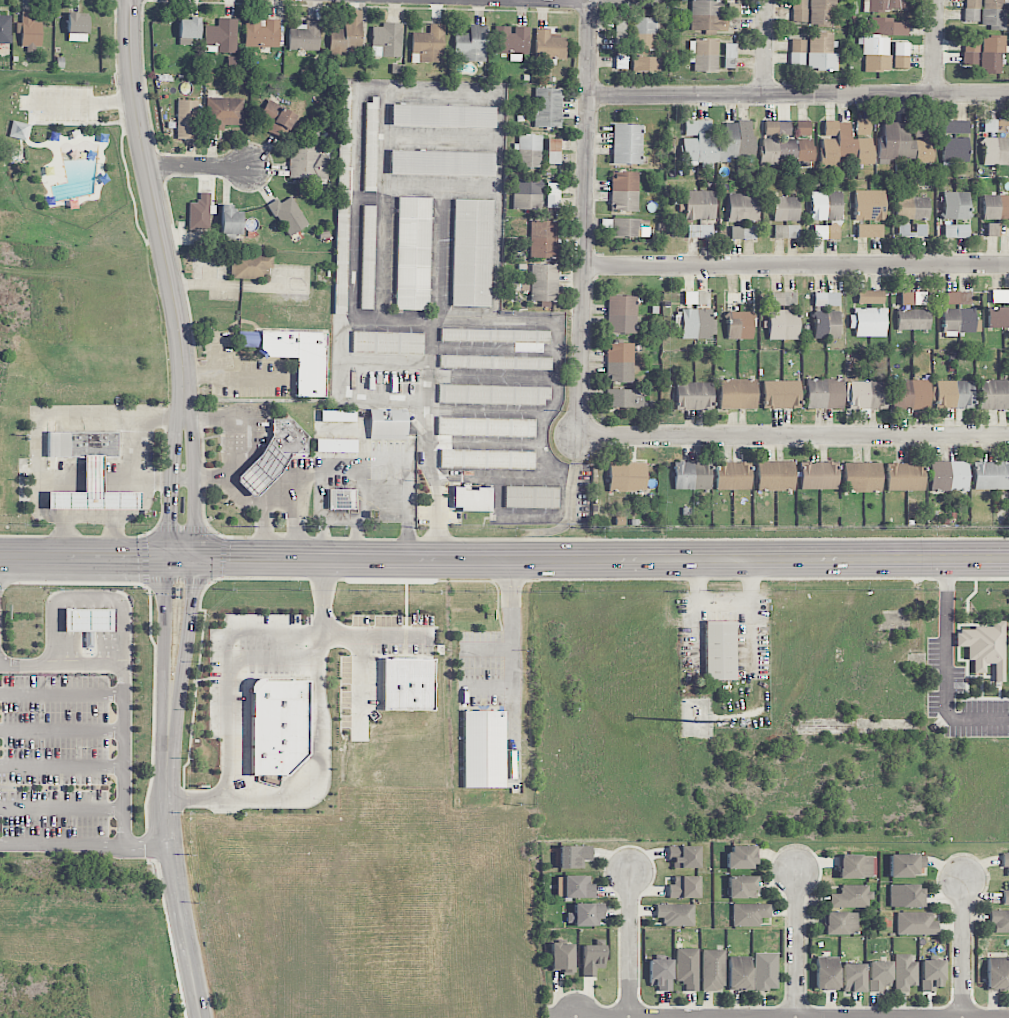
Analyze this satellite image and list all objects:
road: (574, 0)
road: (623, 0)
building: (883, 5)
building: (799, 10)
building: (971, 11)
building: (822, 13)
building: (993, 14)
building: (733, 15)
building: (707, 16)
building: (77, 27)
building: (188, 28)
building: (620, 29)
building: (30, 31)
building: (5, 33)
building: (261, 33)
building: (643, 33)
building: (346, 35)
building: (221, 36)
building: (304, 36)
building: (511, 41)
building: (471, 43)
building: (880, 43)
building: (428, 44)
building: (549, 45)
road: (765, 47)
road: (936, 47)
building: (797, 52)
building: (821, 52)
building: (970, 52)
building: (704, 54)
building: (991, 54)
building: (901, 55)
building: (729, 56)
building: (644, 64)
road: (800, 94)
road: (85, 101)
building: (547, 107)
building: (345, 110)
building: (224, 113)
building: (442, 115)
building: (187, 119)
building: (277, 119)
building: (995, 125)
building: (863, 127)
building: (777, 128)
building: (803, 128)
building: (956, 128)
building: (20, 131)
building: (716, 142)
building: (371, 144)
building: (626, 144)
building: (904, 144)
building: (843, 146)
building: (784, 150)
building: (528, 151)
building: (553, 151)
building: (955, 151)
building: (995, 151)
building: (307, 163)
building: (441, 163)
road: (199, 165)
building: (624, 191)
building: (527, 194)
building: (552, 195)
building: (699, 205)
building: (869, 205)
building: (825, 206)
building: (955, 206)
building: (743, 207)
building: (995, 207)
building: (785, 208)
building: (912, 208)
road: (158, 212)
building: (199, 213)
building: (288, 215)
road: (586, 219)
building: (230, 220)
building: (629, 227)
building: (342, 228)
building: (920, 228)
building: (869, 230)
building: (992, 230)
building: (700, 231)
building: (955, 231)
building: (742, 232)
building: (786, 232)
building: (825, 232)
building: (542, 239)
building: (413, 253)
building: (472, 253)
building: (367, 257)
building: (251, 266)
road: (797, 266)
building: (542, 284)
road: (205, 285)
building: (869, 297)
building: (696, 298)
building: (912, 298)
building: (958, 298)
building: (782, 299)
building: (826, 299)
building: (621, 314)
building: (998, 317)
building: (912, 319)
building: (959, 321)
road: (459, 322)
building: (867, 322)
building: (697, 324)
building: (783, 324)
building: (826, 324)
building: (739, 325)
building: (495, 335)
building: (388, 343)
building: (296, 356)
building: (495, 362)
building: (619, 362)
road: (232, 376)
building: (737, 394)
building: (781, 394)
building: (824, 394)
building: (910, 394)
building: (954, 394)
building: (494, 395)
building: (694, 395)
building: (867, 395)
building: (994, 395)
building: (623, 398)
building: (338, 416)
building: (388, 424)
road: (229, 426)
building: (485, 427)
building: (289, 437)
road: (793, 437)
road: (146, 440)
building: (82, 444)
building: (335, 445)
building: (487, 459)
building: (262, 469)
gas station: (262, 469)
building: (626, 476)
building: (692, 476)
building: (732, 476)
building: (775, 476)
building: (818, 476)
building: (948, 476)
building: (991, 476)
building: (862, 477)
building: (905, 477)
road: (182, 478)
road: (409, 479)
road: (169, 486)
road: (194, 487)
road: (362, 488)
building: (94, 492)
gas station: (94, 492)
building: (531, 497)
building: (342, 499)
building: (472, 499)
road: (258, 501)
road: (143, 508)
road: (90, 518)
road: (279, 520)
road: (325, 522)
traffic signals: (169, 523)
road: (436, 524)
road: (350, 544)
traffic signals: (136, 554)
road: (170, 554)
traffic signals: (226, 555)
road: (674, 557)
traffic signals: (191, 587)
road: (325, 597)
road: (86, 603)
road: (725, 604)
gas station: (89, 619)
building: (89, 620)
road: (165, 624)
road: (187, 624)
road: (376, 638)
building: (89, 639)
building: (984, 647)
road: (488, 648)
building: (719, 649)
road: (512, 664)
road: (948, 668)
road: (227, 679)
building: (407, 684)
road: (489, 685)
road: (364, 686)
building: (277, 726)
road: (168, 746)
building: (484, 749)
road: (122, 752)
road: (320, 792)
road: (143, 847)
building: (573, 856)
building: (683, 856)
building: (741, 857)
building: (1005, 862)
building: (906, 865)
building: (854, 866)
building: (574, 887)
building: (684, 887)
building: (741, 887)
building: (1006, 895)
building: (851, 896)
building: (906, 896)
road: (180, 910)
building: (585, 914)
building: (675, 914)
building: (749, 914)
building: (999, 920)
building: (839, 923)
building: (915, 924)
road: (631, 946)
road: (798, 947)
road: (964, 950)
building: (562, 957)
building: (592, 959)
building: (686, 968)
building: (712, 970)
building: (765, 971)
building: (738, 973)
building: (826, 973)
building: (904, 973)
building: (660, 974)
building: (997, 974)
building: (879, 975)
building: (931, 975)
building: (853, 978)

